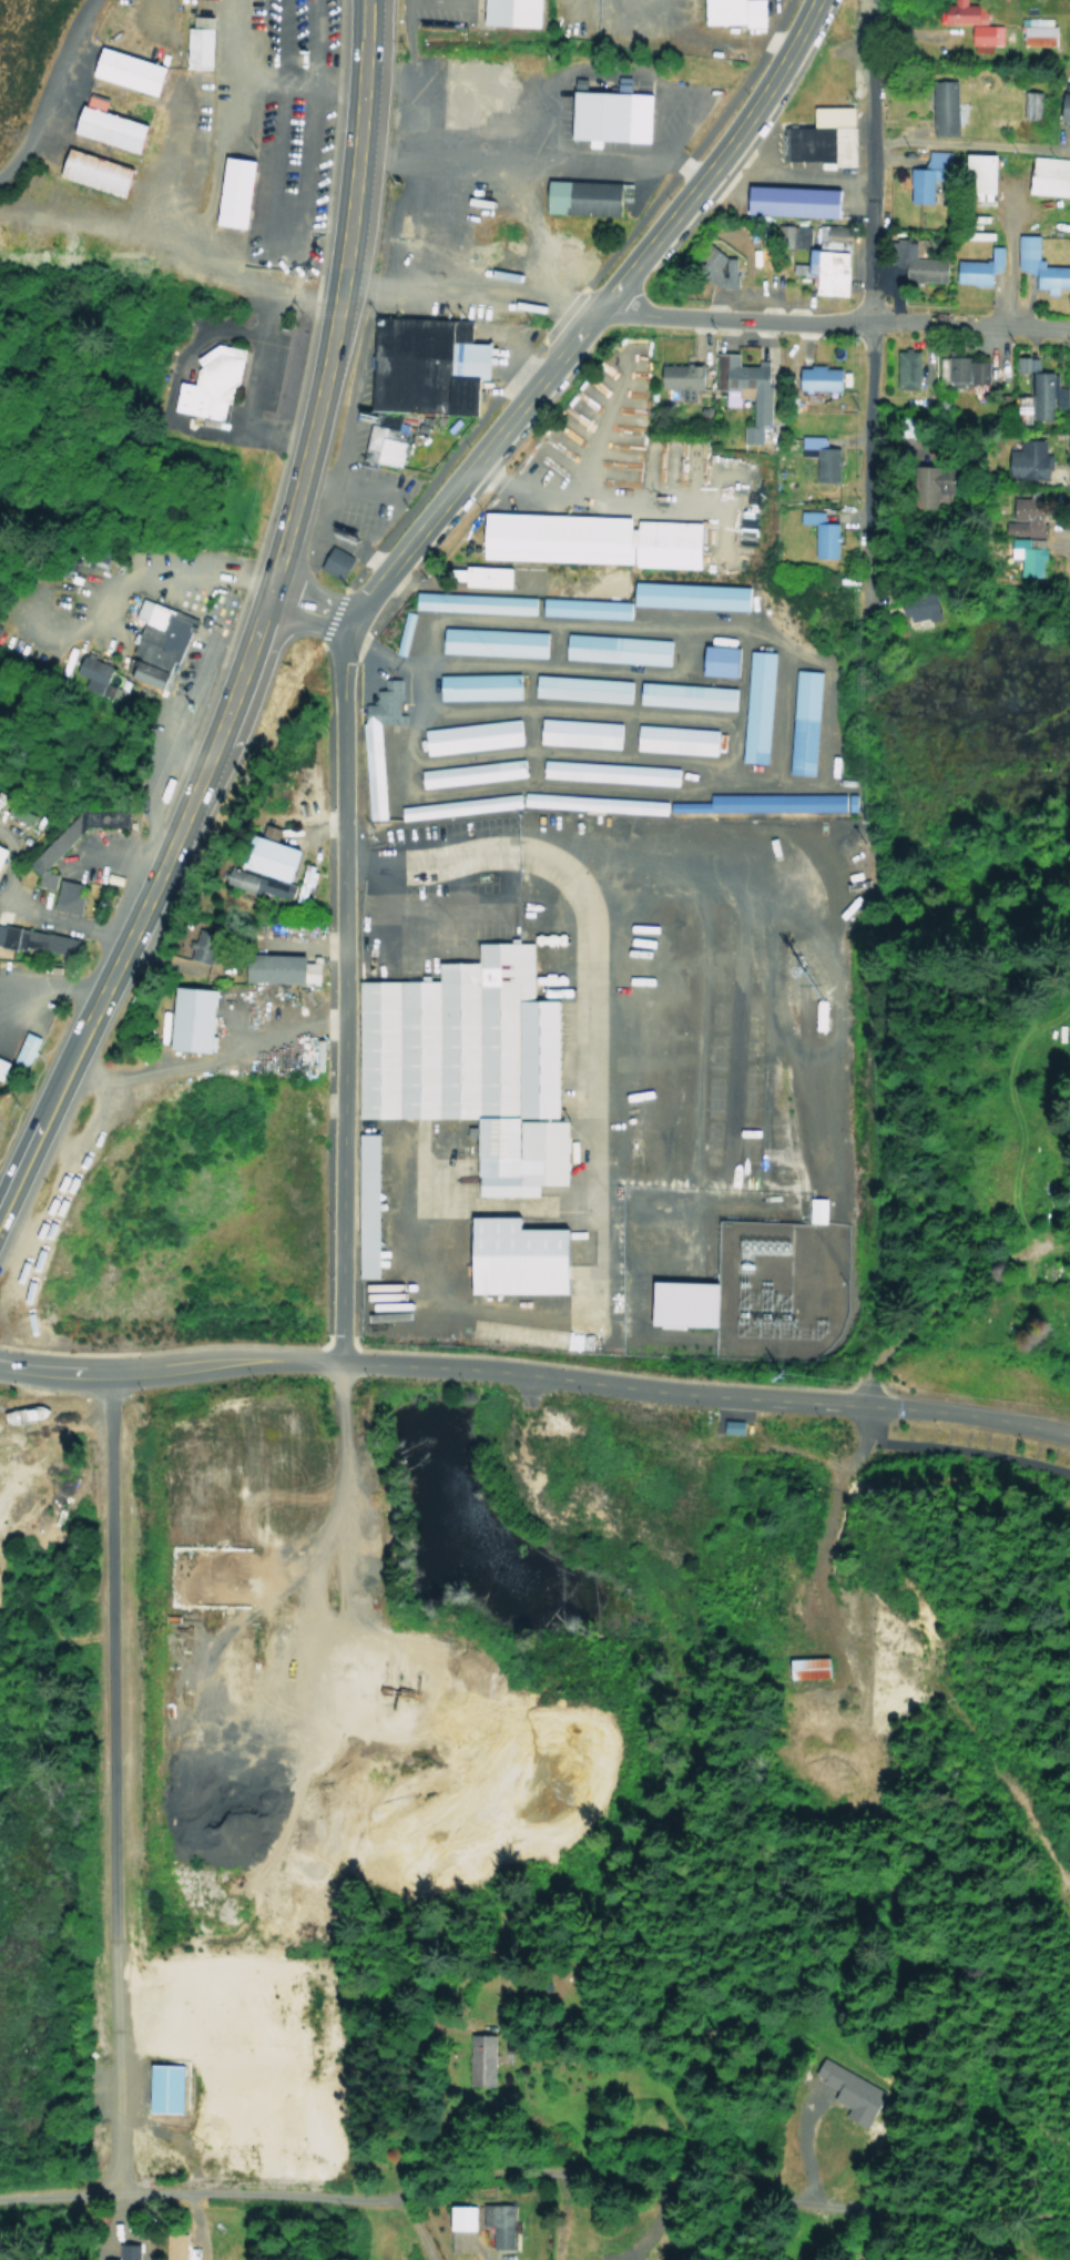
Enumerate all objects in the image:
road: (452, 0)
road: (147, 10)
building: (506, 12)
building: (730, 12)
building: (968, 24)
building: (1032, 31)
building: (200, 41)
road: (226, 53)
building: (120, 70)
road: (48, 86)
building: (1027, 104)
building: (1062, 104)
building: (939, 108)
road: (217, 114)
building: (604, 114)
building: (102, 128)
building: (818, 138)
road: (964, 145)
road: (532, 149)
road: (789, 170)
building: (90, 172)
building: (972, 175)
building: (1047, 175)
building: (924, 176)
building: (232, 192)
building: (585, 196)
building: (788, 201)
road: (240, 240)
road: (282, 244)
road: (1005, 251)
building: (816, 255)
building: (910, 262)
building: (1037, 266)
building: (712, 267)
building: (974, 268)
road: (164, 278)
traffic signals: (329, 292)
road: (465, 298)
road: (868, 298)
road: (834, 316)
road: (588, 319)
road: (254, 343)
building: (420, 366)
building: (903, 369)
building: (948, 370)
building: (972, 371)
building: (814, 378)
building: (681, 379)
building: (208, 383)
building: (740, 390)
building: (1035, 391)
road: (600, 421)
road: (194, 427)
building: (384, 447)
building: (1023, 461)
building: (916, 485)
road: (592, 496)
building: (1021, 517)
building: (814, 533)
building: (593, 538)
road: (1069, 549)
road: (348, 550)
building: (1021, 557)
building: (332, 563)
road: (152, 569)
building: (480, 576)
building: (685, 595)
building: (470, 603)
parking lot: (194, 604)
building: (578, 608)
road: (245, 624)
road: (55, 632)
building: (399, 633)
building: (152, 642)
building: (489, 642)
road: (550, 644)
building: (613, 649)
building: (715, 660)
road: (523, 665)
building: (89, 674)
building: (473, 688)
building: (577, 689)
building: (683, 695)
building: (753, 706)
road: (776, 714)
building: (801, 722)
road: (524, 725)
building: (575, 733)
building: (468, 736)
road: (622, 736)
building: (672, 740)
building: (376, 745)
road: (724, 746)
building: (607, 772)
building: (468, 773)
road: (707, 774)
road: (815, 776)
building: (590, 803)
building: (761, 803)
building: (456, 806)
building: (18, 813)
building: (263, 833)
building: (71, 836)
road: (114, 854)
building: (264, 859)
building: (255, 886)
building: (64, 897)
road: (445, 913)
road: (61, 920)
building: (38, 940)
building: (274, 970)
road: (588, 978)
road: (49, 985)
road: (338, 988)
road: (26, 996)
building: (185, 1020)
road: (732, 1020)
road: (695, 1022)
road: (764, 1046)
building: (21, 1050)
road: (204, 1057)
building: (463, 1062)
building: (1, 1063)
road: (4, 1189)
building: (364, 1207)
building: (816, 1210)
building: (511, 1259)
power substation: (777, 1287)
building: (673, 1303)
road: (485, 1310)
road: (916, 1330)
road: (536, 1372)
power tower: (781, 1374)
building: (732, 1426)
road: (968, 1453)
building: (803, 1668)
road: (102, 1780)
building: (482, 2059)
building: (165, 2087)
road: (180, 2195)
building: (460, 2218)
road: (1011, 2219)
building: (496, 2225)
building: (174, 2244)
building: (120, 2252)

